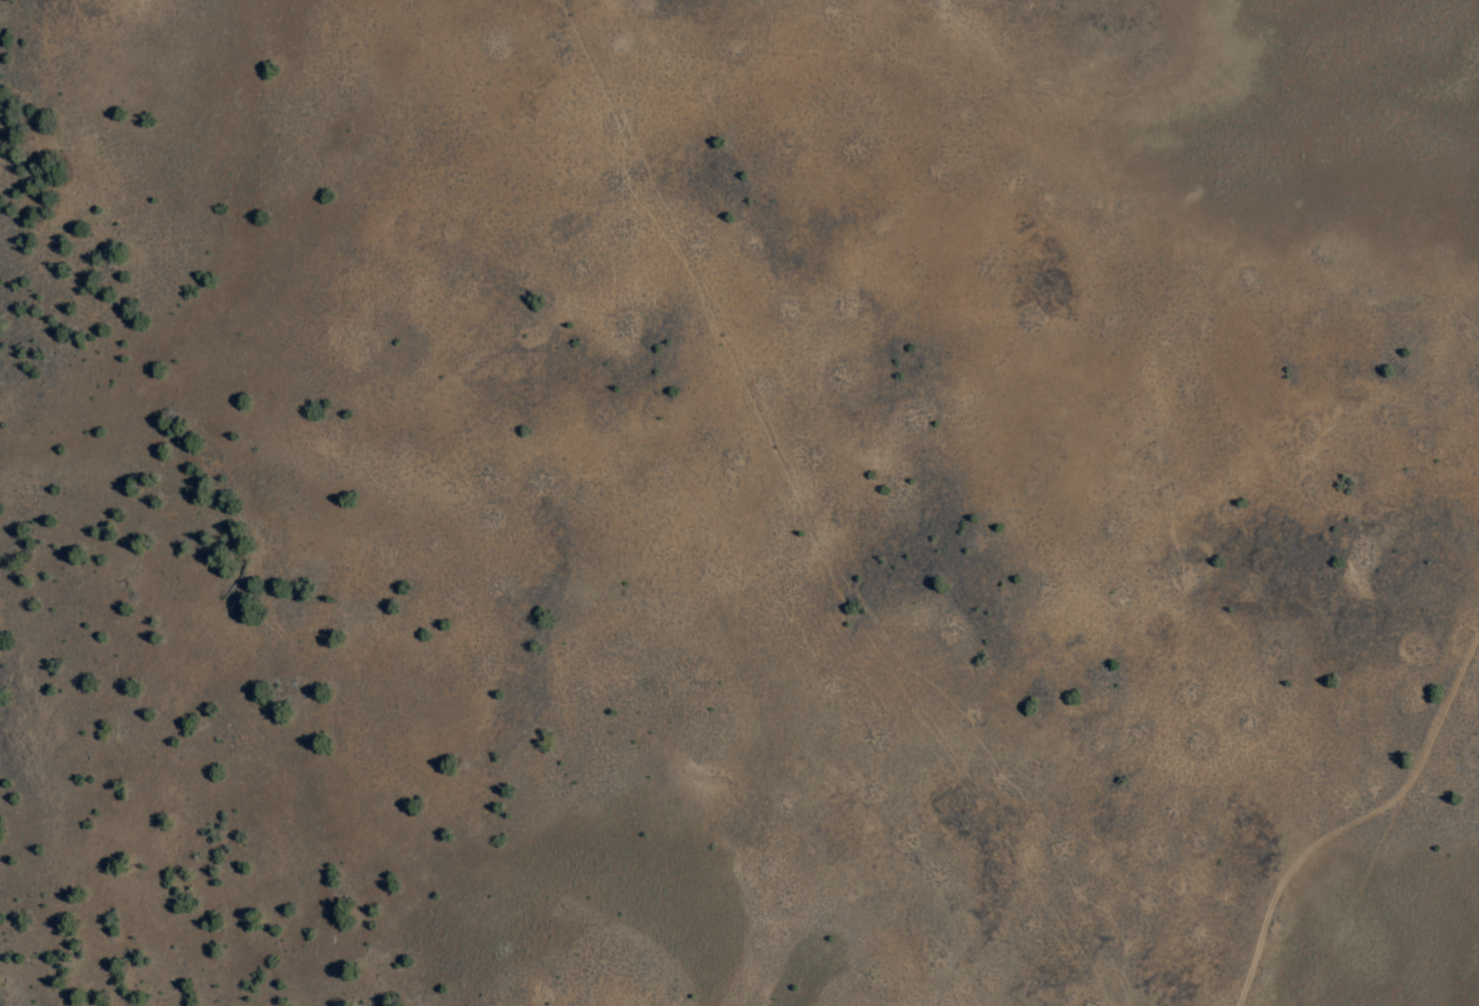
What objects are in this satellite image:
road: (1360, 823)

